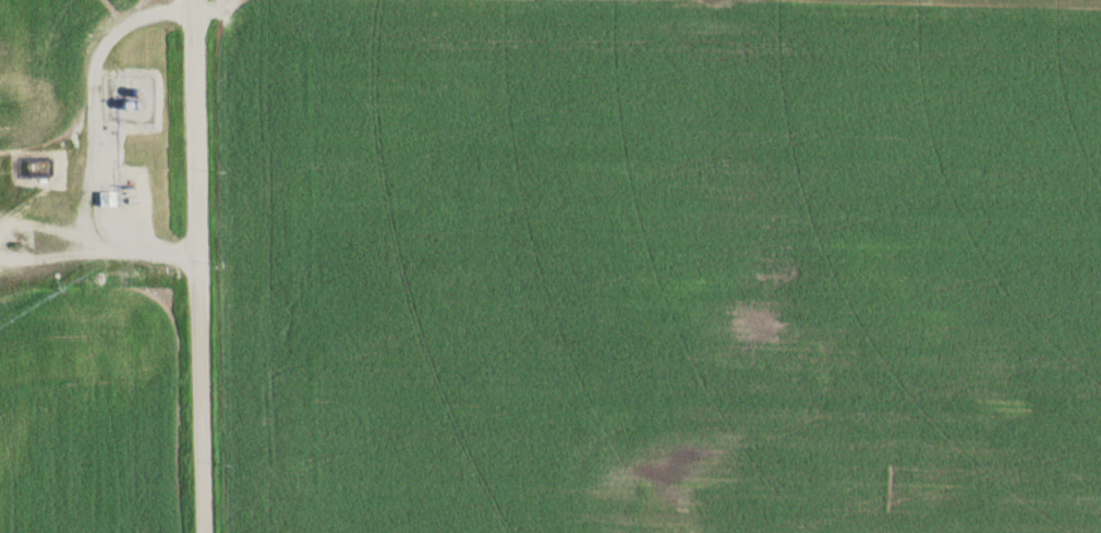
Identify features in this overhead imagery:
building: (38, 168)
building: (107, 198)
road: (205, 266)

